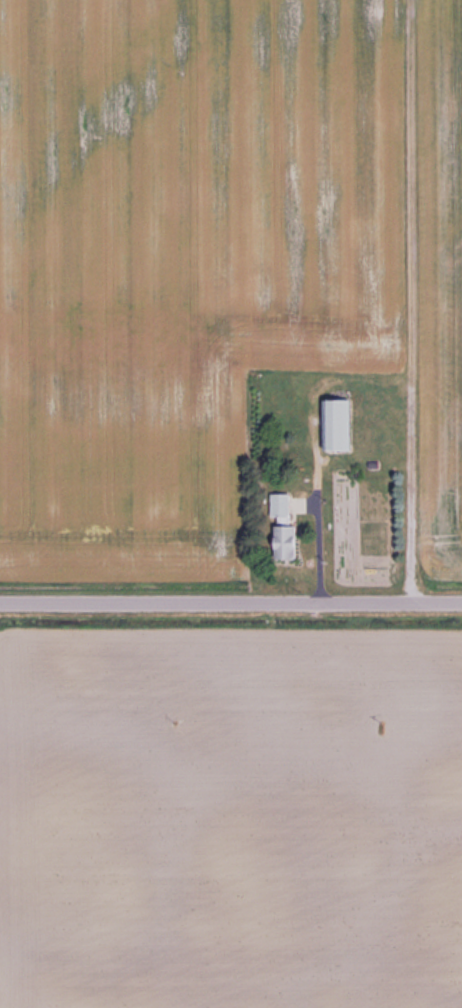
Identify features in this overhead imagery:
building: (340, 424)
building: (285, 525)
road: (231, 602)

